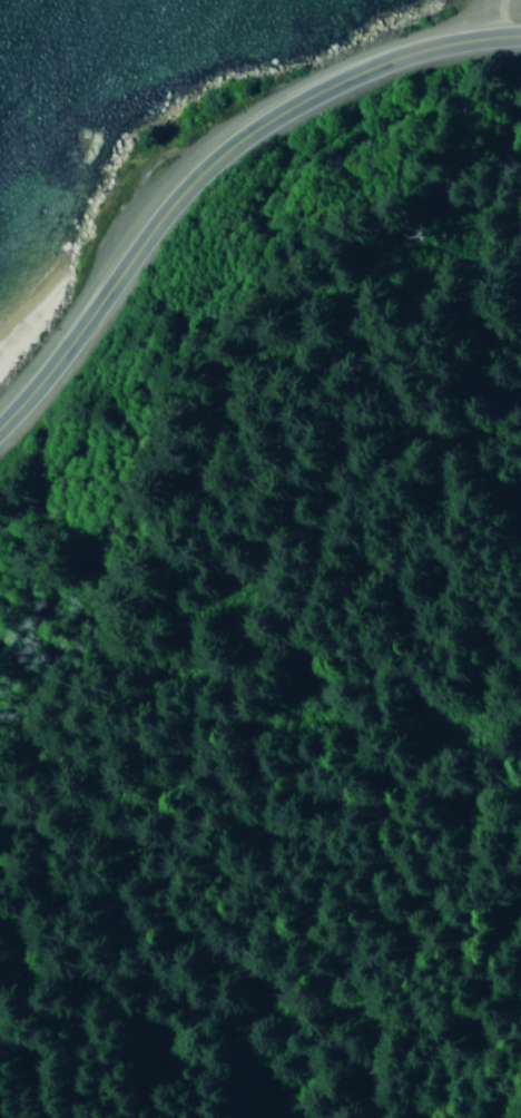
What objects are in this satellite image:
road: (491, 9)
road: (503, 17)
park: (501, 22)
park: (498, 89)
road: (212, 169)
park: (21, 381)

